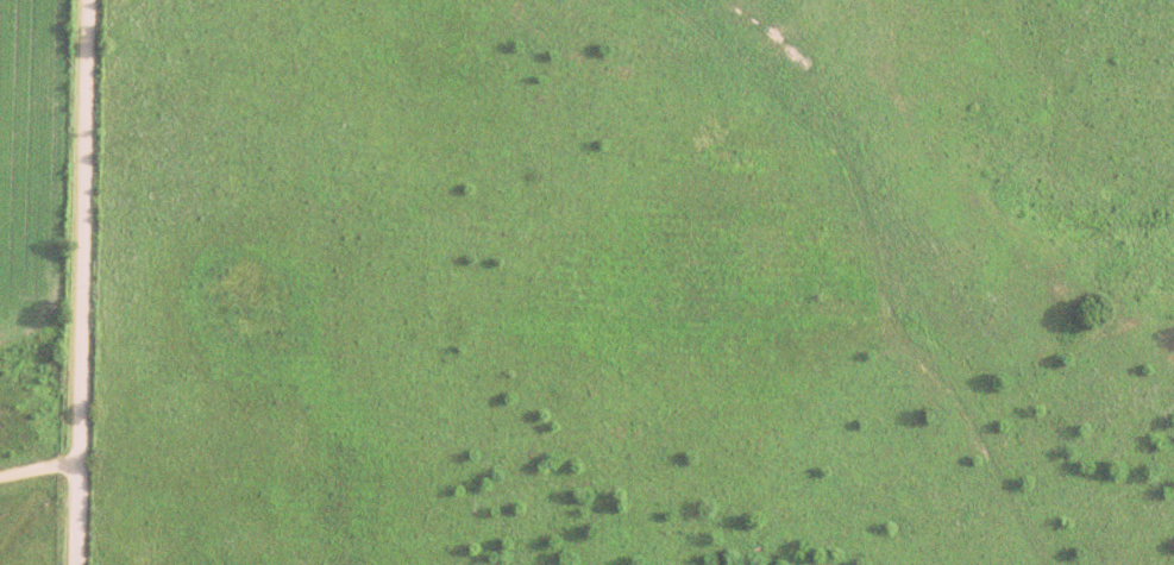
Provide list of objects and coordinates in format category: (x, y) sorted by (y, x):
road: (79, 282)
road: (37, 475)

